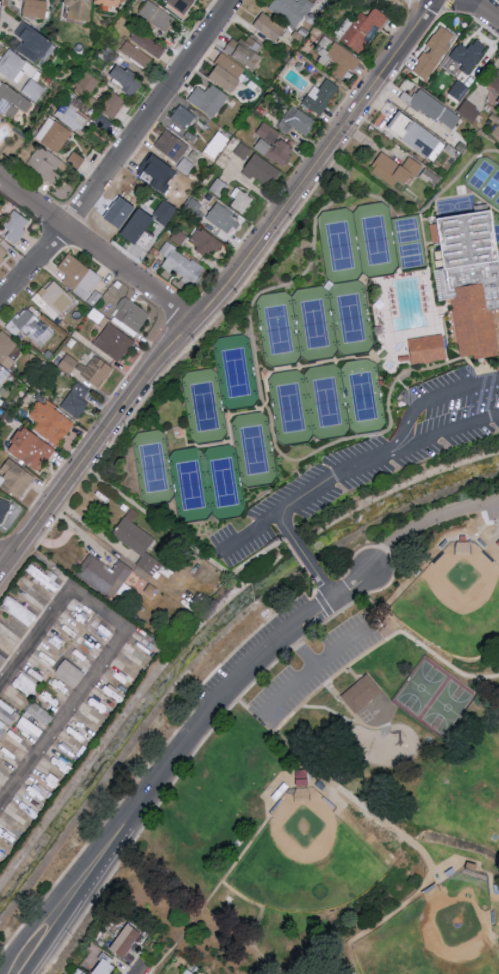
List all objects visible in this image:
road: (497, 1)
building: (115, 3)
building: (182, 7)
building: (37, 8)
building: (82, 8)
building: (292, 9)
road: (484, 10)
building: (157, 16)
building: (346, 24)
building: (270, 27)
building: (363, 30)
building: (35, 43)
building: (147, 44)
building: (247, 49)
building: (435, 52)
building: (136, 54)
building: (469, 55)
building: (229, 72)
building: (128, 80)
building: (496, 82)
building: (34, 89)
building: (321, 96)
building: (209, 99)
building: (13, 100)
building: (498, 100)
building: (113, 105)
building: (430, 107)
building: (468, 109)
building: (183, 116)
building: (70, 117)
building: (297, 121)
building: (54, 134)
building: (419, 136)
building: (216, 144)
building: (274, 144)
building: (172, 145)
road: (119, 153)
building: (45, 165)
building: (185, 166)
building: (158, 167)
building: (396, 169)
building: (263, 171)
park: (489, 184)
building: (241, 200)
road: (325, 207)
park: (453, 207)
building: (166, 211)
building: (224, 218)
building: (139, 225)
building: (17, 226)
building: (205, 241)
park: (375, 241)
park: (409, 244)
park: (339, 247)
road: (98, 251)
building: (3, 253)
building: (182, 265)
building: (79, 276)
building: (470, 280)
road: (381, 287)
road: (224, 293)
building: (54, 300)
road: (432, 305)
building: (131, 314)
park: (350, 319)
park: (314, 325)
building: (30, 326)
park: (278, 331)
building: (114, 342)
building: (6, 349)
building: (426, 351)
building: (69, 363)
building: (98, 371)
park: (235, 373)
road: (263, 374)
building: (3, 377)
park: (363, 398)
building: (76, 401)
park: (327, 403)
park: (204, 407)
park: (290, 409)
building: (51, 422)
road: (368, 435)
road: (404, 435)
building: (32, 448)
park: (254, 451)
parking lot: (373, 461)
park: (153, 468)
building: (16, 478)
park: (223, 483)
park: (190, 486)
road: (309, 494)
building: (4, 505)
parking lot: (490, 507)
road: (427, 521)
building: (137, 542)
building: (498, 542)
road: (304, 558)
road: (3, 565)
building: (104, 575)
building: (42, 576)
park: (457, 604)
road: (95, 610)
building: (89, 636)
road: (34, 638)
road: (302, 651)
road: (313, 669)
parking lot: (314, 670)
building: (70, 672)
building: (26, 684)
road: (232, 685)
park: (420, 689)
building: (362, 693)
building: (98, 704)
park: (447, 709)
road: (327, 710)
building: (40, 714)
road: (62, 718)
building: (2, 727)
building: (29, 728)
building: (72, 749)
road: (299, 757)
park: (333, 757)
park: (306, 868)
road: (55, 896)
road: (80, 905)
building: (127, 940)
park: (430, 944)
road: (152, 962)
building: (104, 965)

